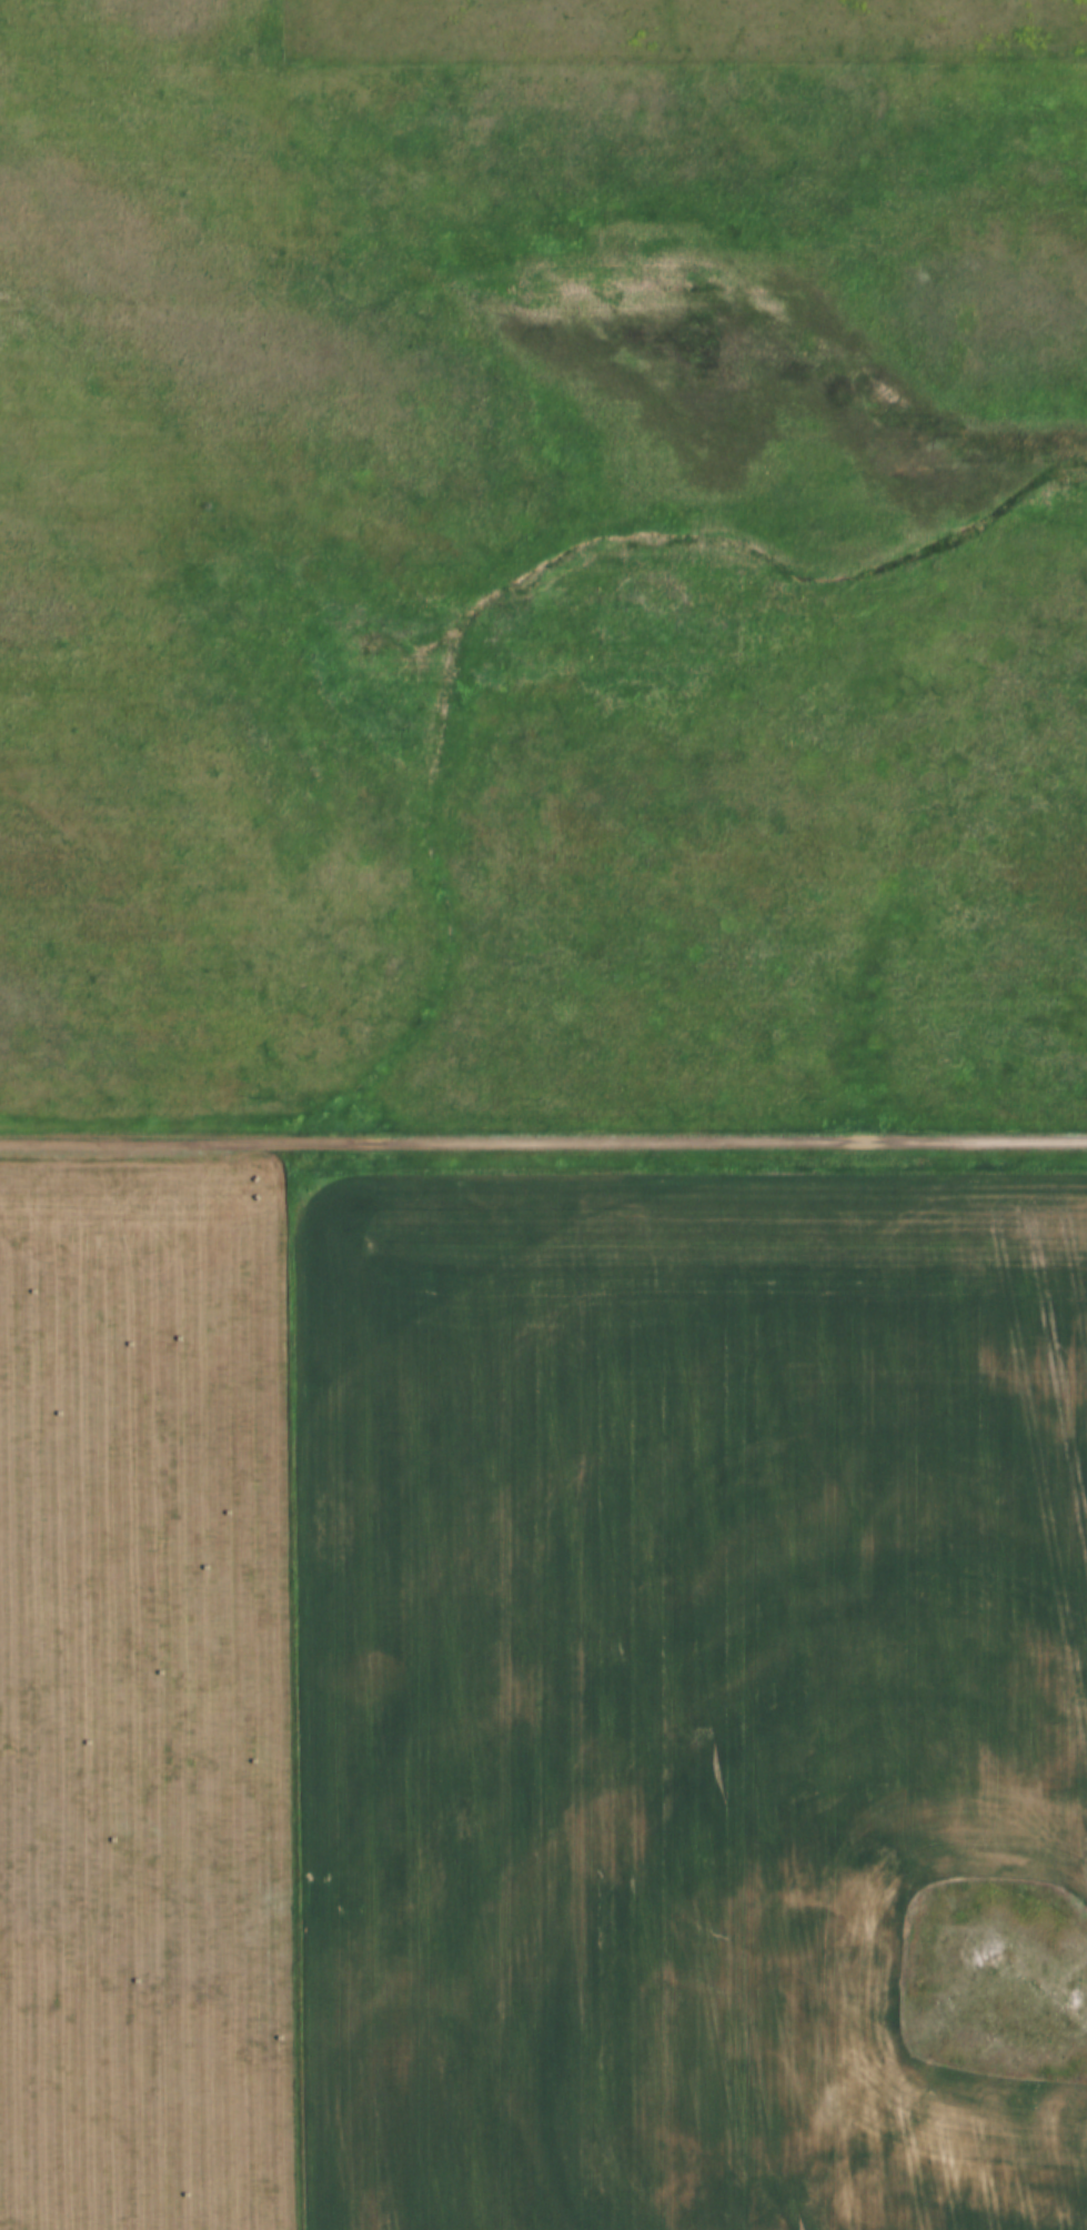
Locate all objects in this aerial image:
road: (543, 1144)

